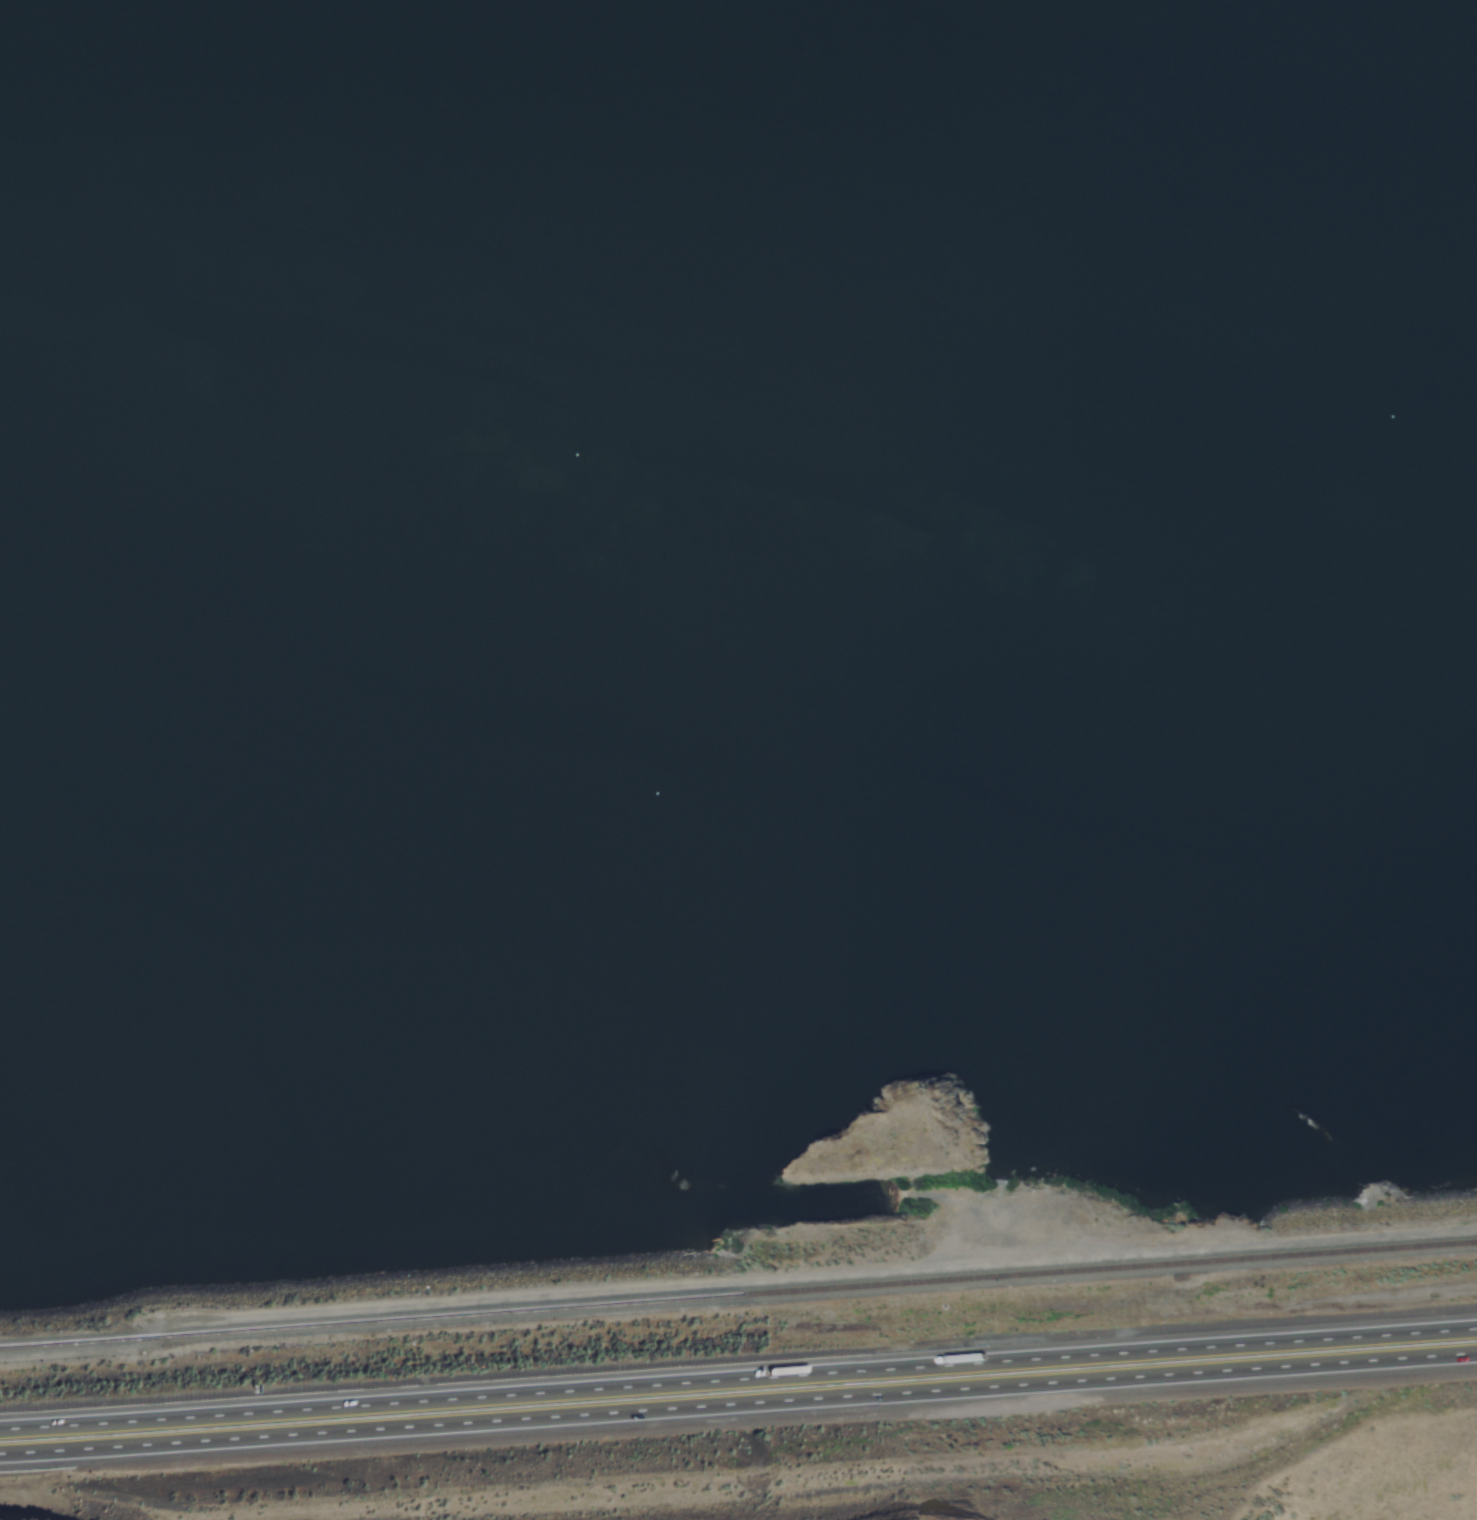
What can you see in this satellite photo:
railway: (738, 1298)
road: (738, 1375)
road: (738, 1407)

